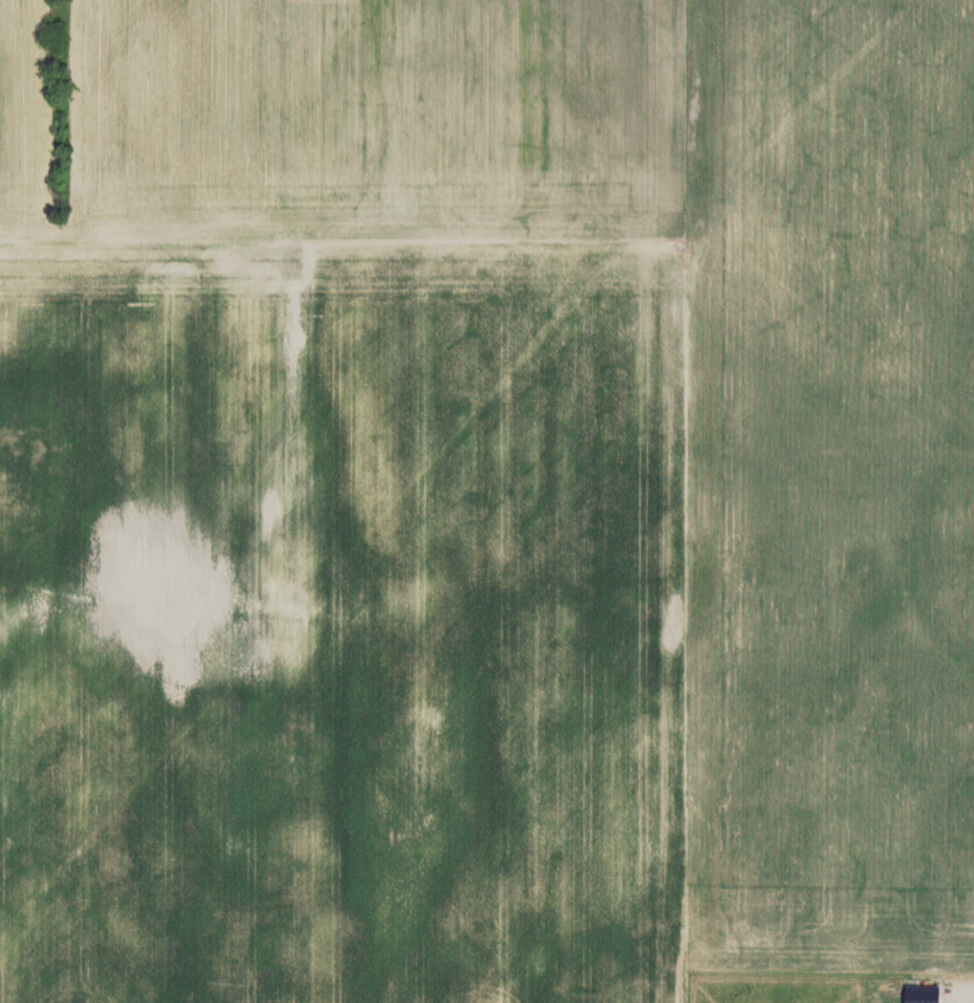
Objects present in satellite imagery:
building: (917, 994)

